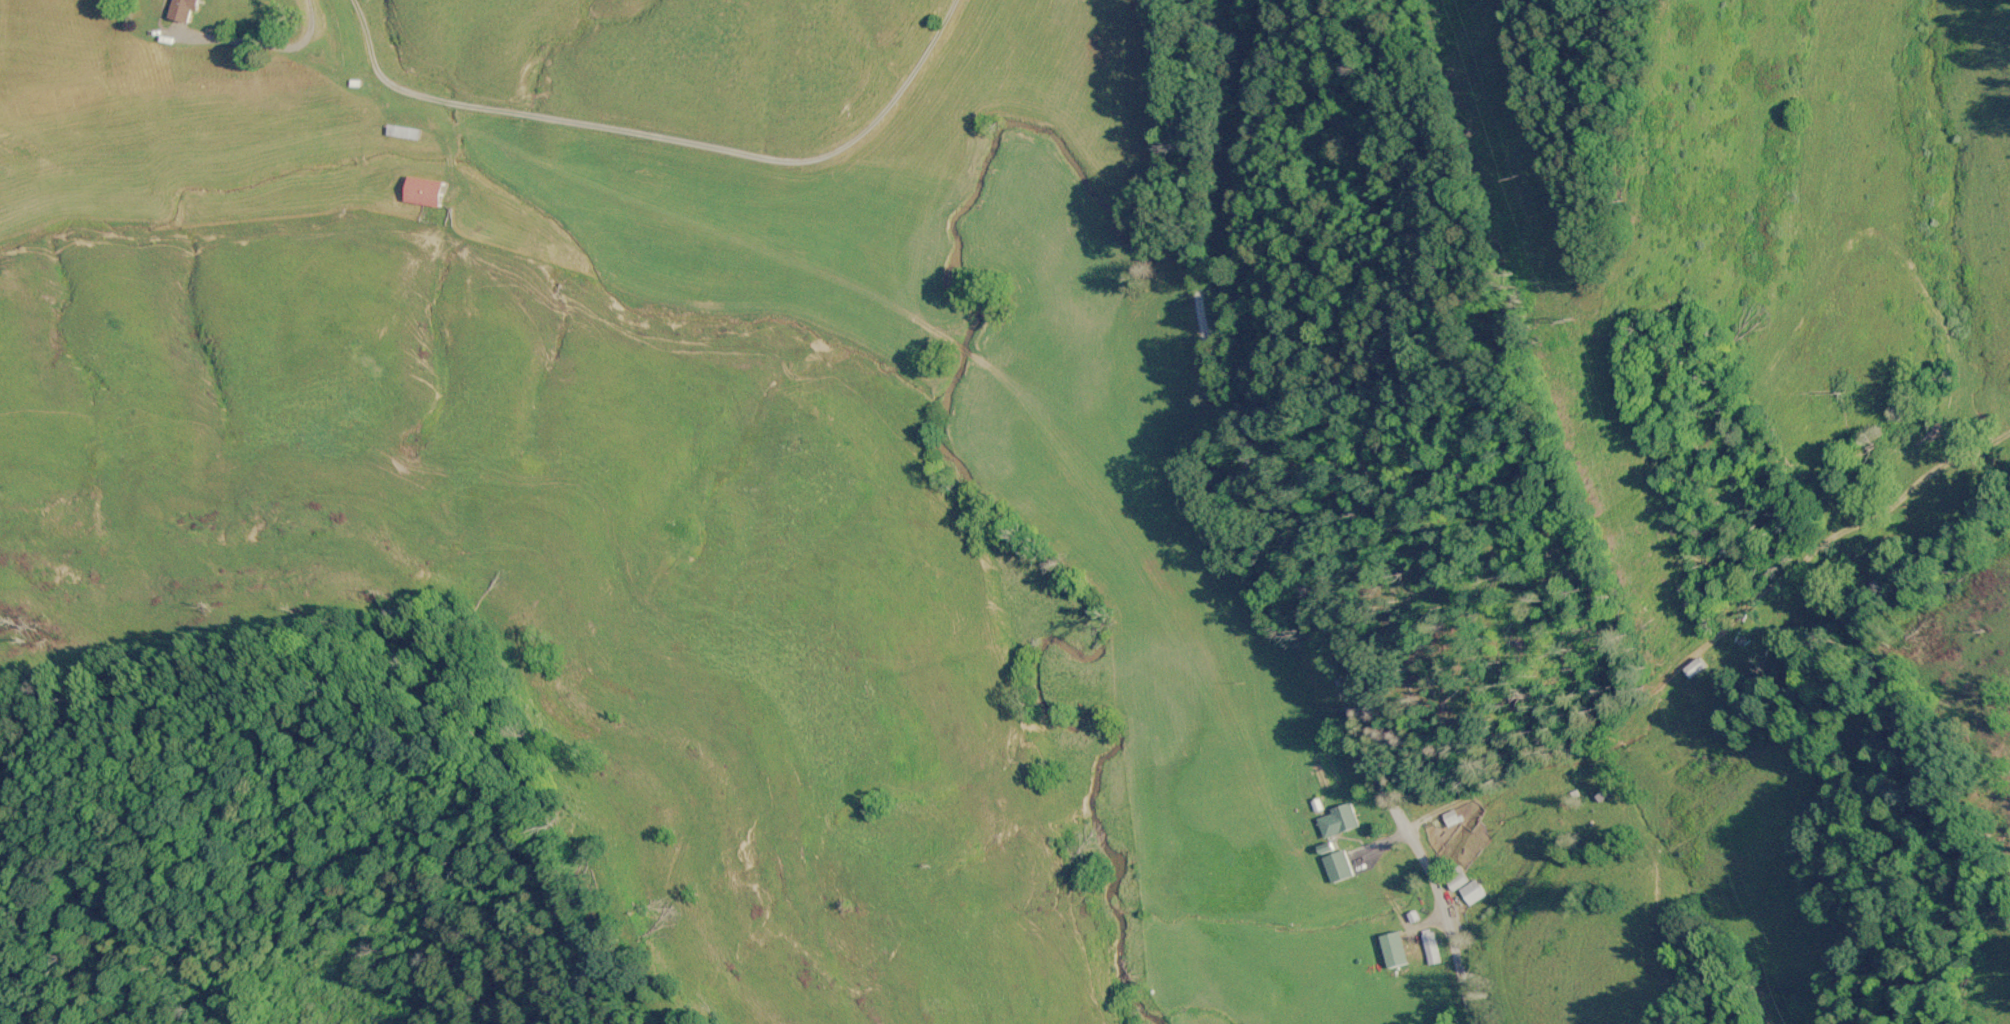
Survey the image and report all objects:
road: (263, 48)
building: (403, 130)
road: (666, 139)
building: (424, 189)
road: (1286, 521)
building: (1698, 666)
road: (1567, 731)
building: (1602, 794)
building: (1451, 816)
building: (1338, 819)
building: (1335, 863)
building: (1465, 886)
building: (1428, 945)
building: (1394, 948)

